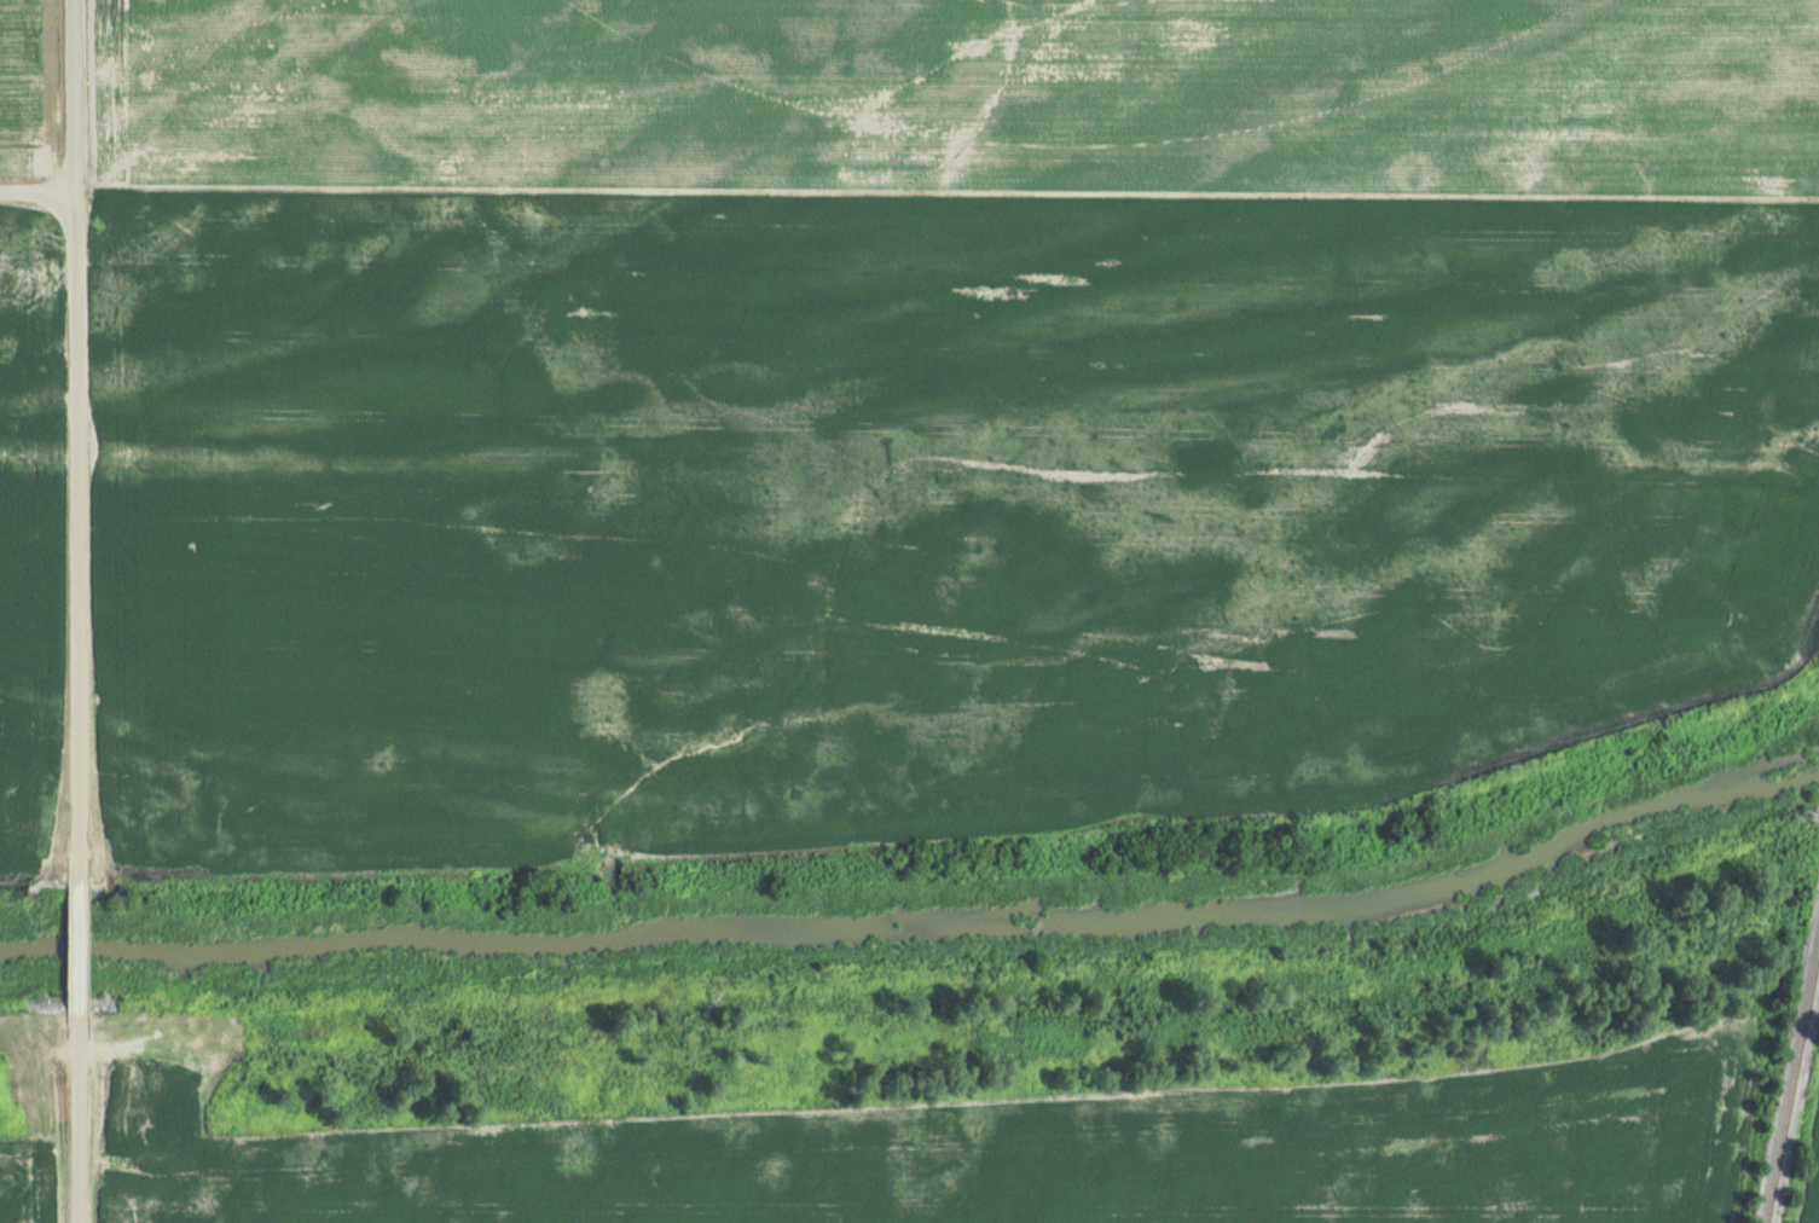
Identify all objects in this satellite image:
road: (36, 195)
road: (80, 610)
railway: (1792, 1083)

